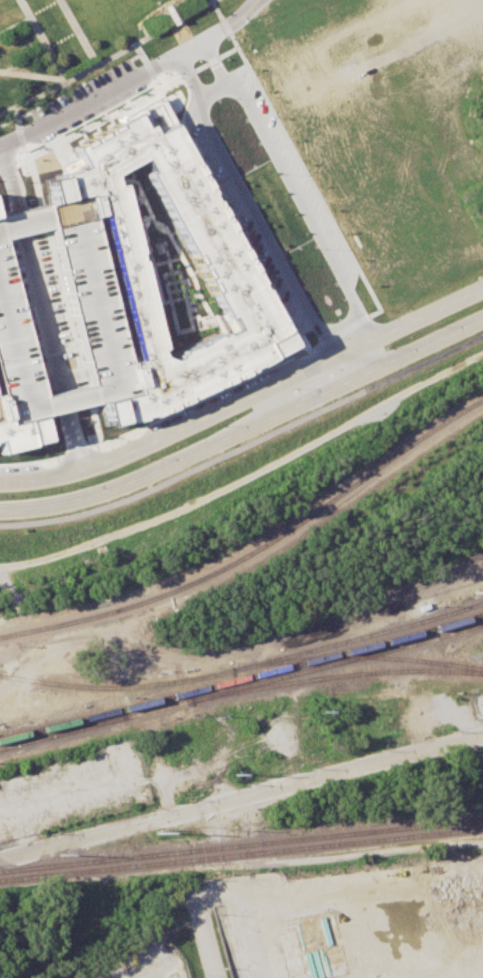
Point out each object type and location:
street lamp: (65, 7)
road: (212, 10)
street lamp: (199, 11)
road: (26, 15)
road: (227, 23)
road: (220, 26)
street lamp: (27, 28)
road: (73, 32)
street lamp: (83, 39)
road: (38, 40)
park: (74, 41)
street lamp: (146, 41)
road: (185, 46)
street lamp: (214, 48)
road: (35, 50)
road: (222, 52)
street lamp: (125, 53)
road: (135, 53)
road: (105, 57)
road: (208, 60)
street lamp: (44, 61)
road: (209, 62)
street lamp: (101, 66)
road: (196, 67)
road: (144, 69)
street lamp: (170, 72)
road: (183, 73)
road: (31, 76)
road: (184, 76)
street lamp: (3, 77)
road: (151, 82)
road: (208, 92)
street lamp: (50, 93)
street lamp: (226, 97)
road: (86, 99)
street lamp: (21, 108)
street lamp: (205, 109)
road: (13, 117)
street lamp: (93, 117)
road: (95, 119)
road: (18, 136)
road: (6, 163)
road: (29, 174)
street lamp: (272, 174)
road: (303, 177)
road: (10, 182)
street lamp: (245, 189)
street lamp: (4, 202)
road: (225, 221)
street lamp: (313, 247)
building: (213, 257)
street lamp: (285, 265)
building: (161, 268)
road: (61, 298)
street lamp: (361, 309)
building: (89, 311)
road: (41, 312)
street lamp: (428, 326)
road: (338, 331)
street lamp: (311, 337)
street lamp: (383, 347)
road: (346, 350)
road: (352, 363)
traffic signals: (317, 366)
road: (81, 376)
street lamp: (287, 387)
road: (202, 397)
road: (245, 397)
road: (93, 424)
street lamp: (215, 424)
road: (245, 424)
building: (17, 432)
road: (72, 438)
road: (245, 442)
road: (75, 453)
street lamp: (144, 458)
road: (30, 461)
road: (257, 480)
street lamp: (74, 483)
railway: (256, 549)
road: (237, 652)
railway: (359, 656)
railway: (231, 657)
railway: (244, 667)
railway: (334, 675)
railway: (241, 677)
railway: (124, 684)
railway: (242, 688)
railway: (238, 701)
railway: (63, 727)
road: (241, 795)
railway: (241, 844)
railway: (241, 853)
railway: (275, 861)
road: (203, 933)

